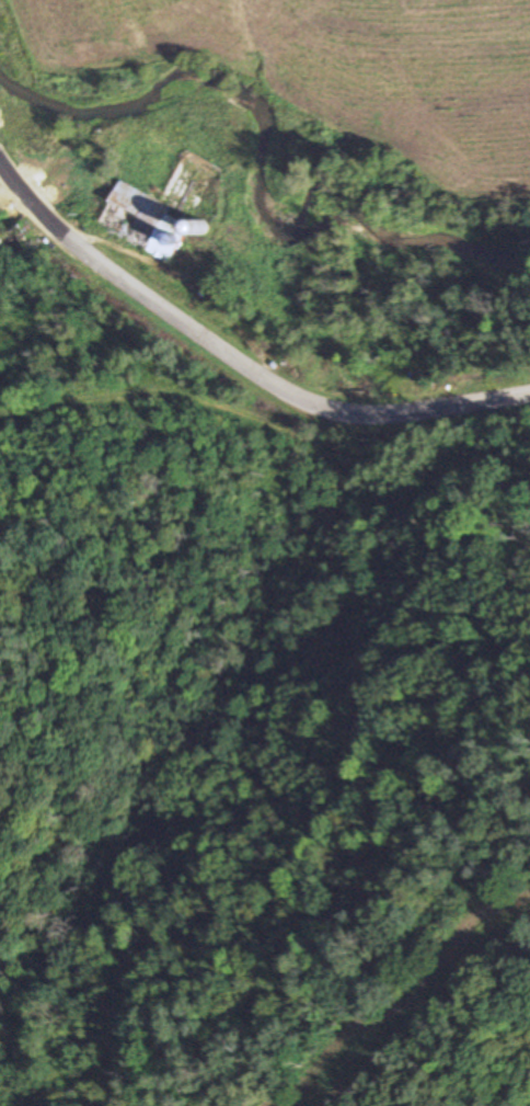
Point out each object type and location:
building: (139, 220)
road: (235, 357)
road: (195, 401)

